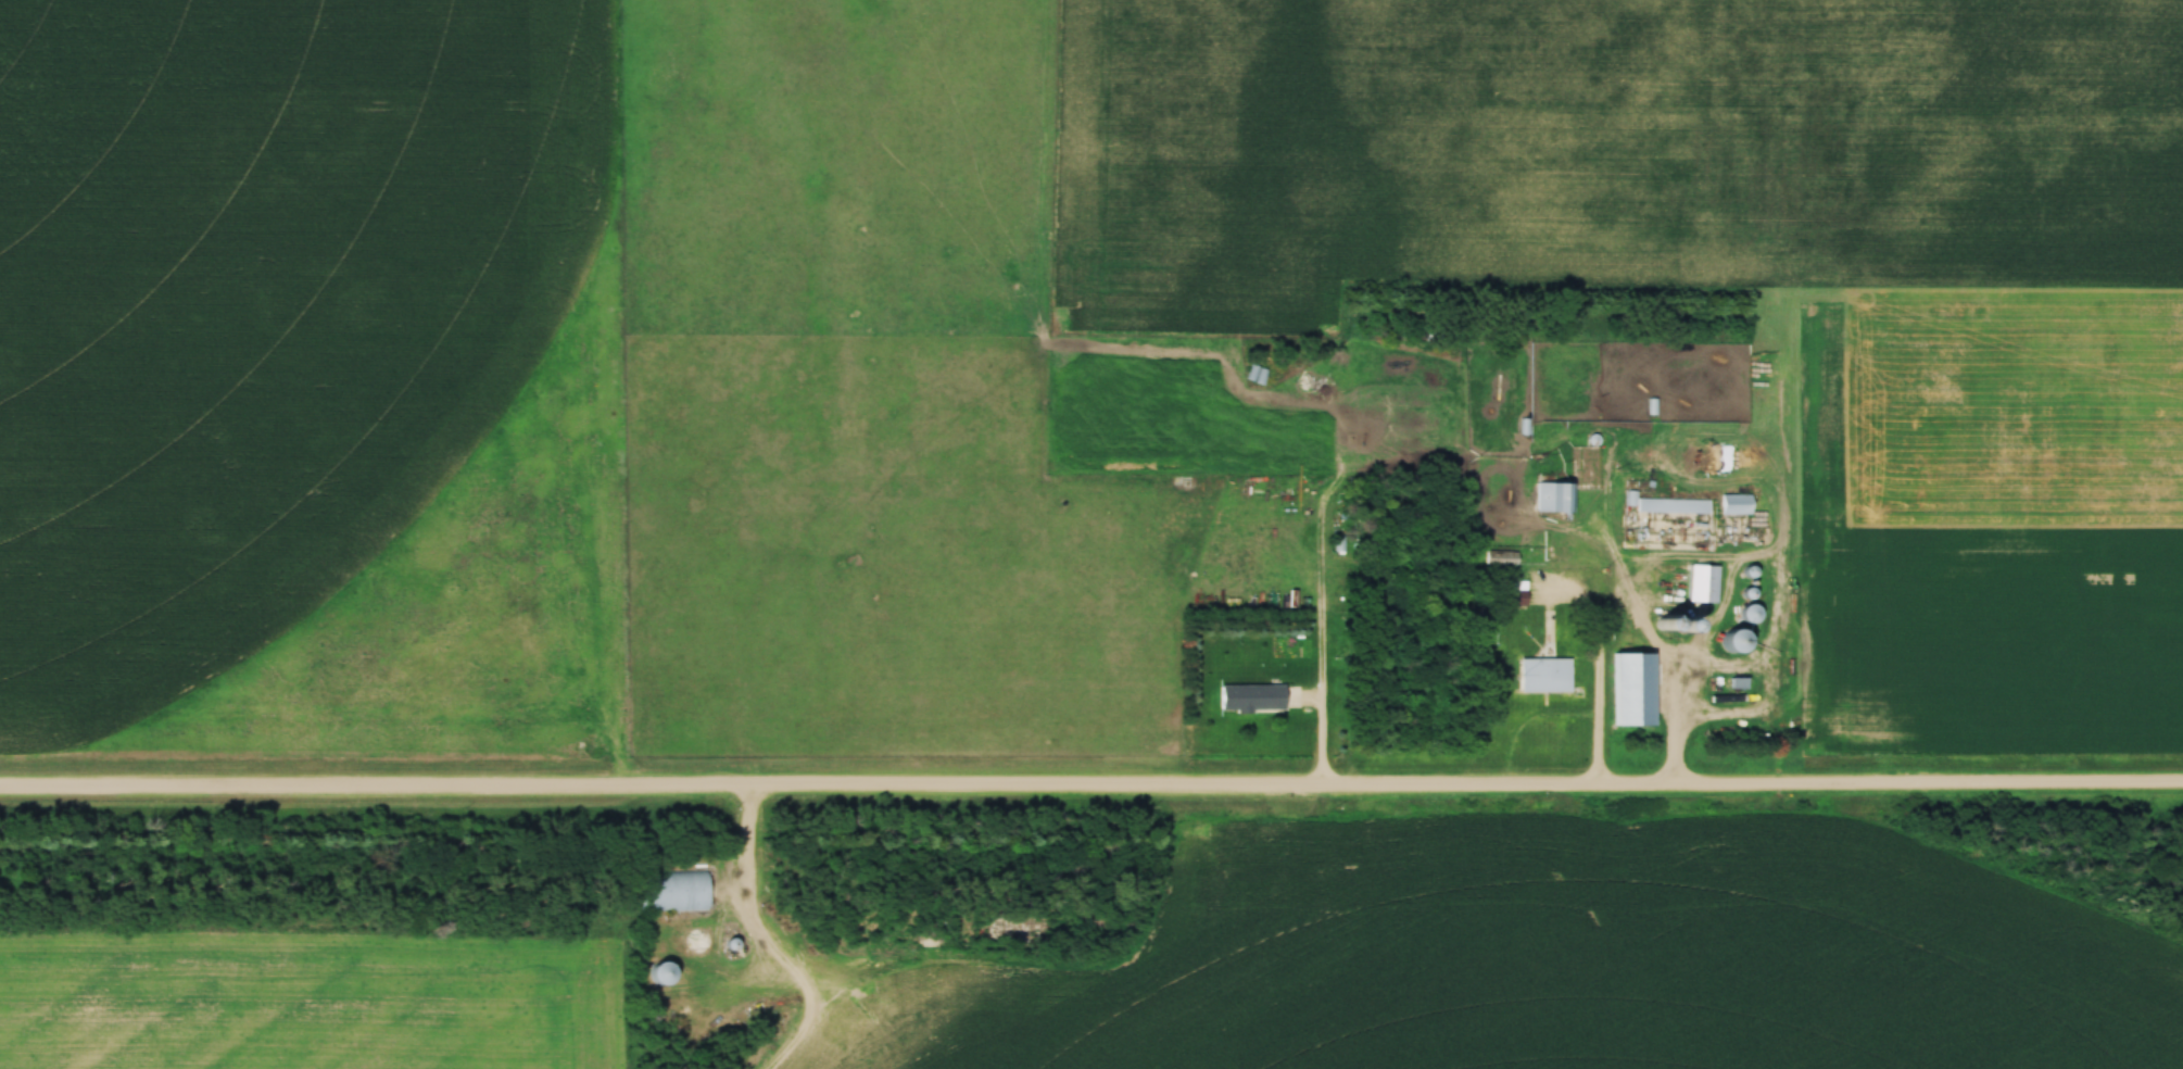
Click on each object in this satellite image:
building: (1552, 500)
building: (1733, 505)
building: (1673, 508)
building: (1498, 559)
building: (1663, 578)
building: (1702, 586)
building: (1513, 600)
building: (1745, 615)
building: (1677, 626)
road: (1599, 634)
building: (1727, 643)
building: (1540, 677)
road: (1675, 699)
building: (1247, 700)
road: (1090, 787)
road: (743, 850)
building: (669, 892)
building: (693, 941)

